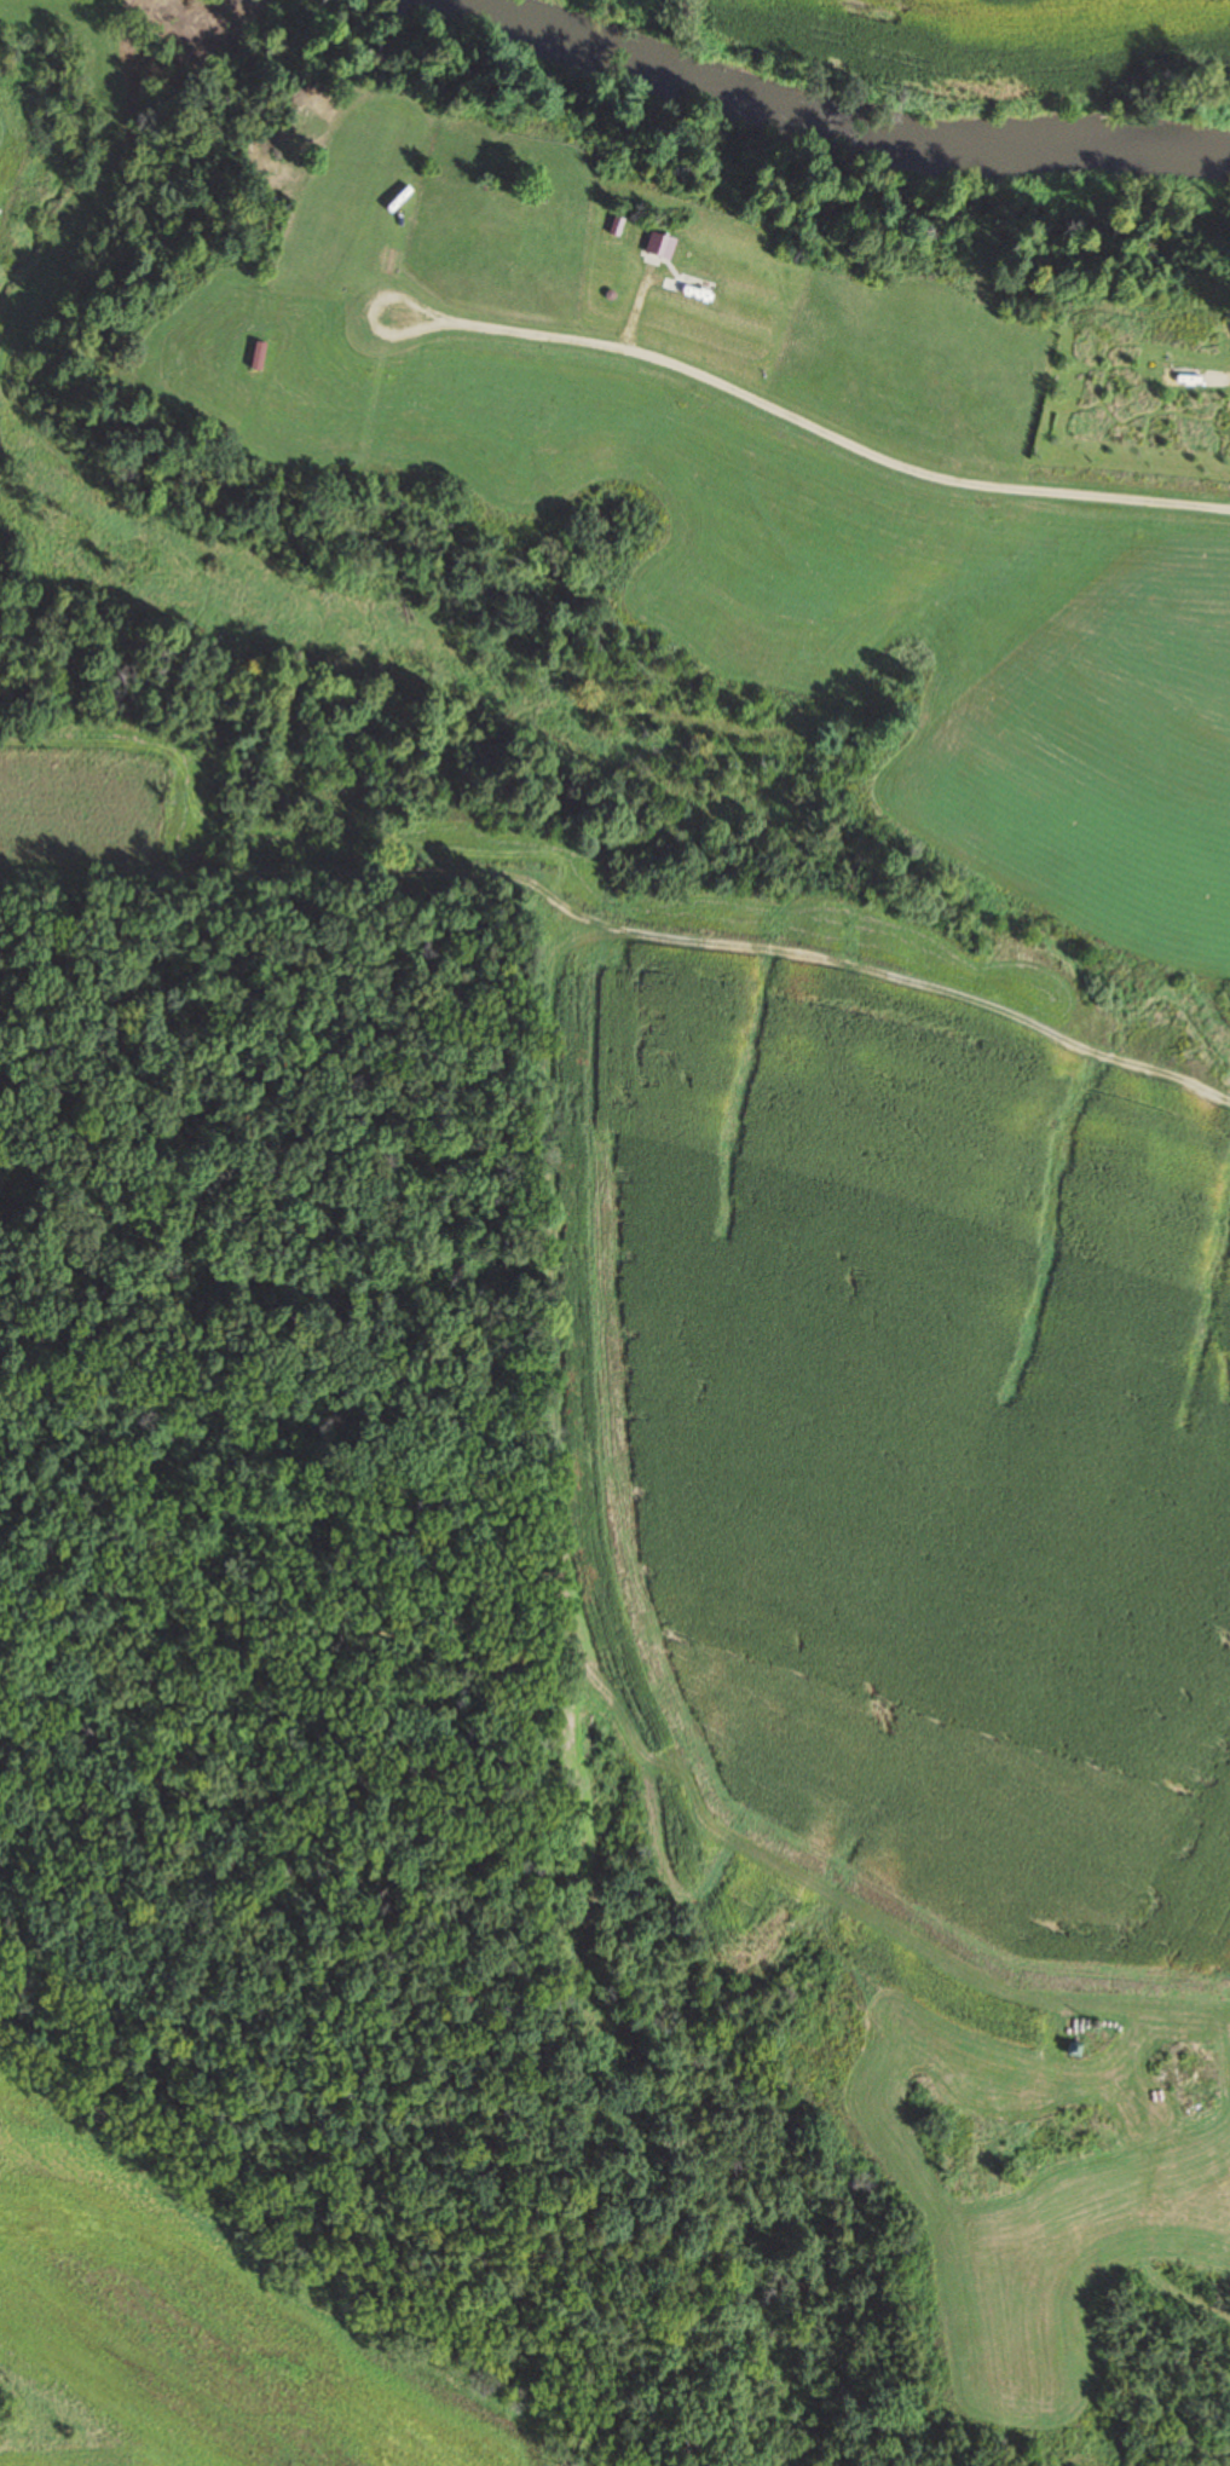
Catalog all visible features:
river: (747, 119)

